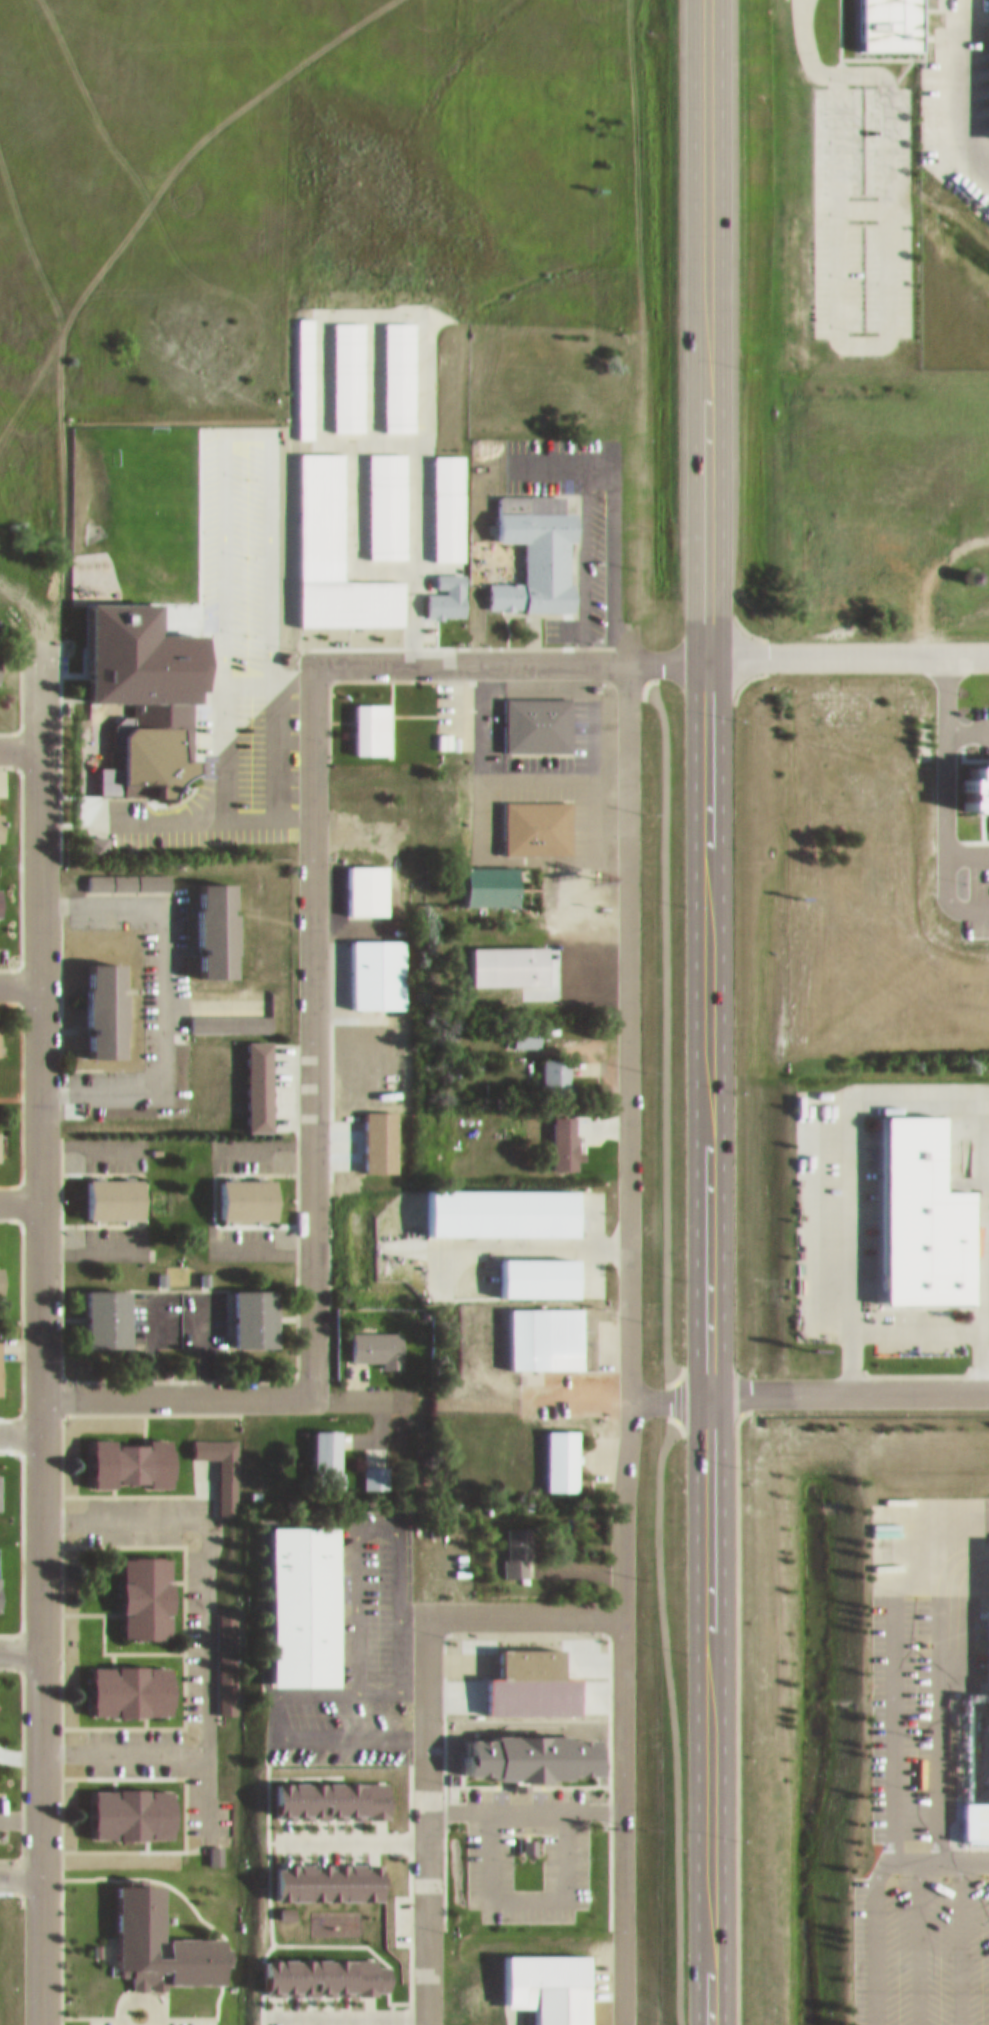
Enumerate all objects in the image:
building: (889, 20)
road: (807, 42)
road: (955, 93)
road: (861, 198)
parking lot: (860, 202)
road: (885, 333)
road: (532, 456)
building: (528, 543)
road: (848, 640)
road: (509, 656)
building: (2, 660)
building: (834, 695)
road: (220, 698)
building: (531, 714)
building: (364, 719)
building: (923, 727)
road: (968, 730)
building: (144, 739)
road: (19, 742)
road: (947, 778)
building: (971, 785)
building: (2, 811)
road: (211, 815)
building: (530, 817)
building: (89, 836)
road: (968, 851)
building: (124, 872)
building: (484, 876)
building: (360, 880)
building: (3, 894)
road: (977, 907)
building: (203, 919)
building: (501, 955)
building: (370, 963)
road: (19, 976)
road: (161, 989)
building: (94, 999)
road: (707, 1012)
road: (39, 1018)
road: (312, 1022)
building: (520, 1028)
building: (2, 1032)
building: (549, 1064)
building: (251, 1076)
road: (914, 1091)
building: (366, 1133)
building: (558, 1133)
building: (1, 1137)
building: (238, 1189)
road: (19, 1193)
building: (920, 1210)
building: (605, 1217)
road: (815, 1270)
building: (4, 1272)
building: (97, 1308)
building: (244, 1308)
building: (538, 1328)
building: (370, 1338)
road: (629, 1340)
road: (667, 1342)
building: (2, 1359)
road: (176, 1386)
road: (361, 1386)
road: (809, 1388)
road: (19, 1425)
building: (380, 1446)
building: (320, 1449)
building: (555, 1450)
building: (119, 1453)
building: (373, 1468)
building: (225, 1474)
road: (376, 1514)
building: (509, 1541)
building: (136, 1588)
road: (203, 1588)
building: (293, 1596)
building: (987, 1606)
road: (524, 1608)
road: (411, 1609)
road: (891, 1629)
road: (19, 1643)
building: (227, 1646)
building: (521, 1654)
road: (928, 1660)
road: (936, 1678)
building: (120, 1682)
road: (39, 1705)
road: (271, 1706)
road: (121, 1743)
building: (322, 1791)
building: (120, 1805)
parking lot: (909, 1806)
road: (426, 1817)
road: (19, 1865)
building: (317, 1873)
road: (871, 1885)
building: (151, 1936)
road: (918, 1938)
road: (959, 1938)
building: (553, 2000)

